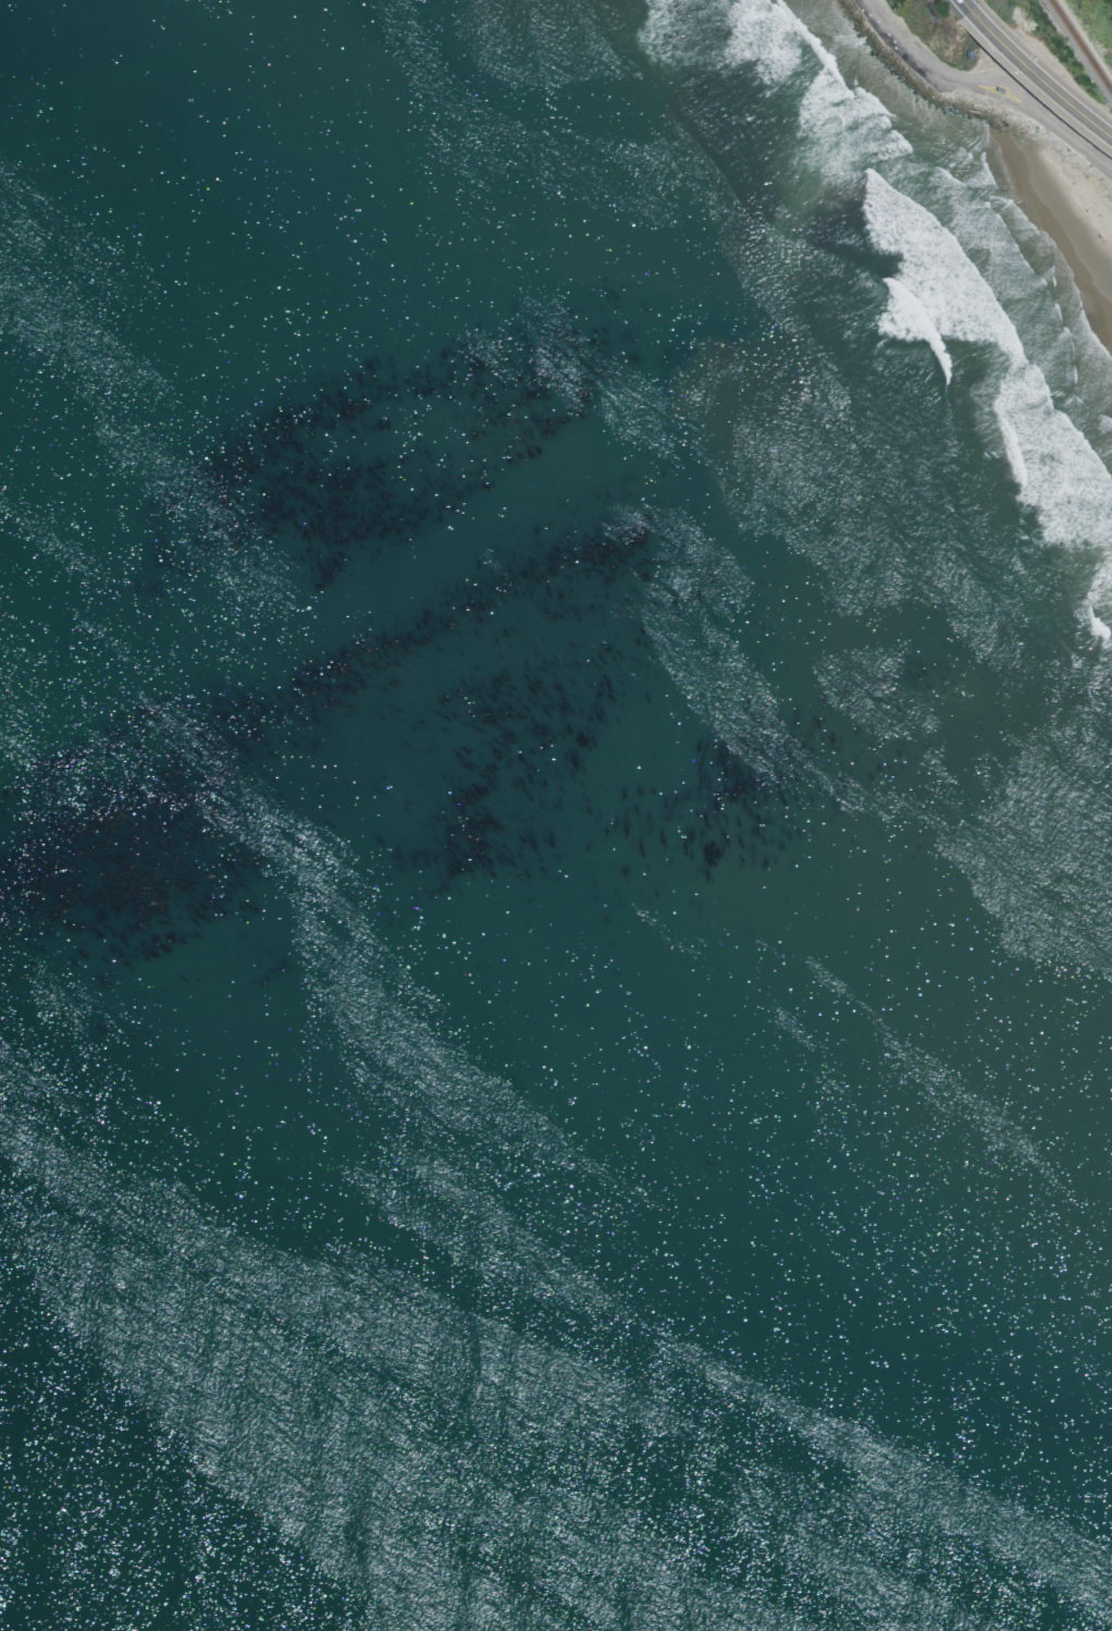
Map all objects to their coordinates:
railway: (1082, 45)
road: (1031, 75)
road: (986, 89)

